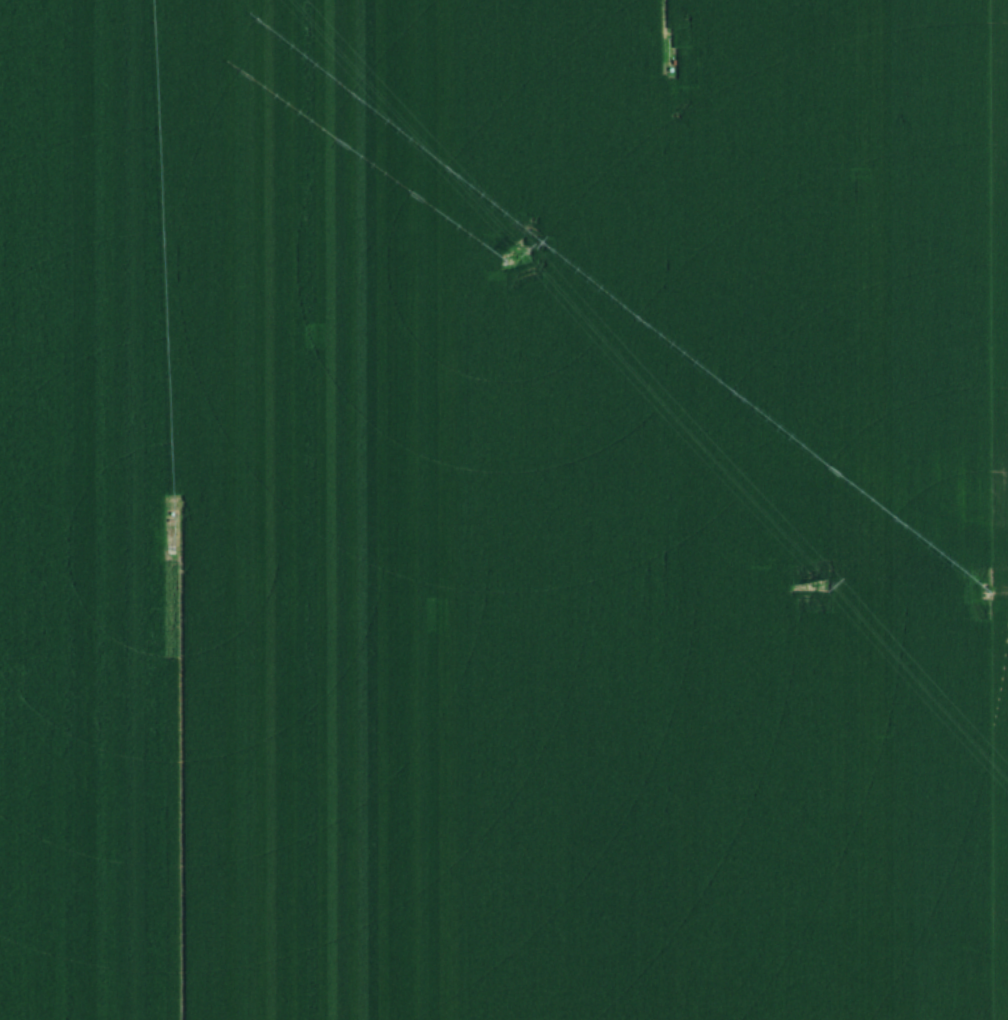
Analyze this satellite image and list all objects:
power tower: (515, 251)
power tower: (822, 585)

